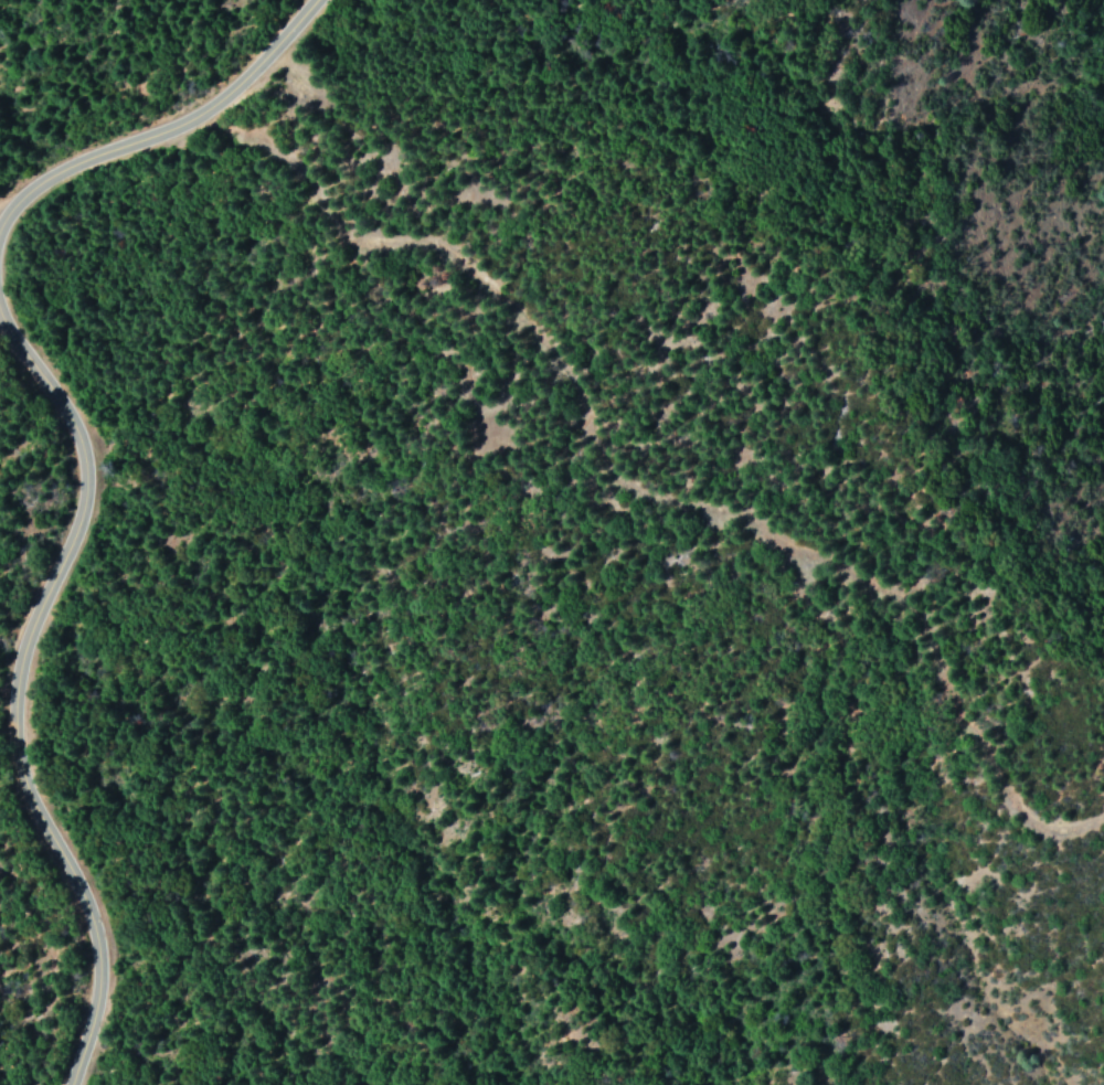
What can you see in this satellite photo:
road: (170, 132)
road: (13, 692)
road: (7, 706)

